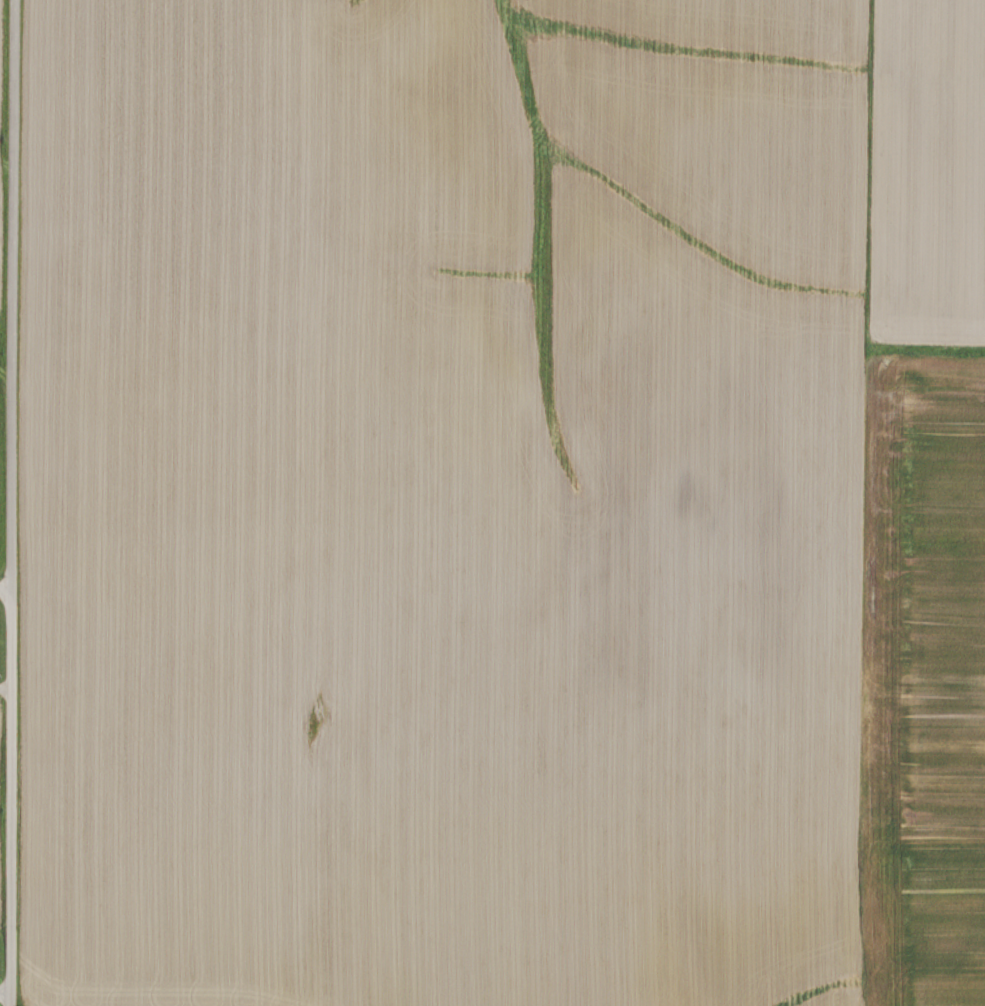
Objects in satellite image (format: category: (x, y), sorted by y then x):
road: (10, 503)
road: (5, 585)

